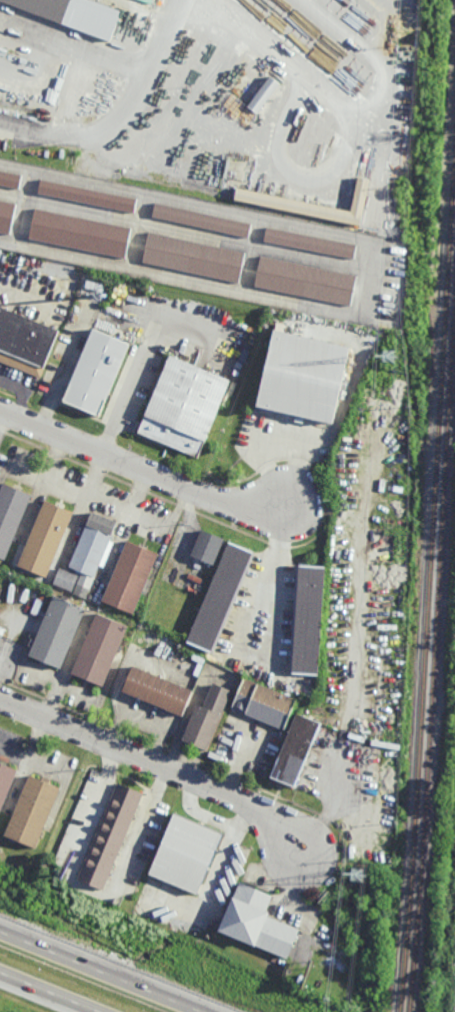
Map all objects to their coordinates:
building: (64, 16)
road: (342, 32)
road: (72, 52)
building: (264, 93)
road: (328, 97)
road: (121, 116)
road: (289, 174)
building: (10, 179)
building: (88, 195)
building: (313, 203)
building: (7, 216)
building: (203, 219)
building: (82, 233)
building: (310, 242)
building: (195, 256)
building: (306, 280)
building: (96, 286)
building: (26, 342)
power tower: (385, 359)
building: (98, 373)
building: (303, 376)
road: (56, 382)
road: (22, 393)
road: (119, 403)
building: (183, 406)
road: (2, 418)
road: (279, 445)
road: (142, 470)
road: (97, 474)
road: (141, 492)
road: (107, 501)
building: (11, 516)
building: (44, 538)
building: (207, 547)
building: (90, 549)
road: (270, 571)
railway: (428, 575)
building: (128, 576)
building: (65, 580)
building: (1, 589)
building: (219, 594)
building: (0, 599)
building: (36, 607)
building: (306, 618)
building: (55, 630)
railway: (432, 632)
building: (1, 636)
building: (98, 648)
building: (156, 690)
building: (262, 703)
building: (206, 717)
building: (369, 736)
building: (293, 748)
road: (155, 762)
building: (6, 782)
building: (318, 809)
building: (34, 811)
road: (330, 812)
building: (109, 836)
building: (342, 852)
building: (184, 854)
power tower: (356, 873)
road: (88, 888)
building: (257, 922)
road: (99, 971)
building: (454, 977)
road: (48, 992)

